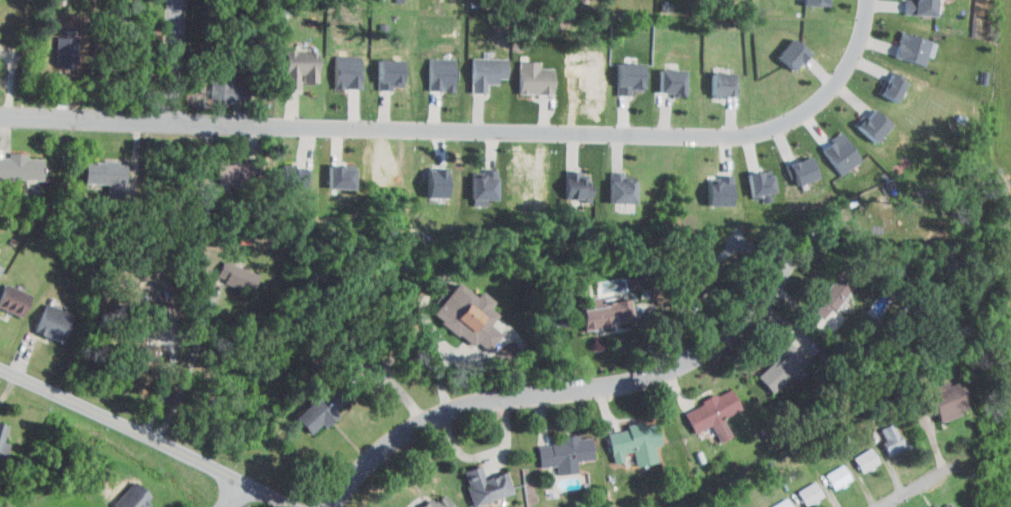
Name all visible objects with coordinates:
building: (813, 2)
building: (920, 7)
building: (911, 48)
building: (790, 54)
road: (170, 59)
building: (300, 68)
building: (343, 71)
building: (389, 73)
building: (489, 73)
building: (439, 74)
building: (536, 77)
building: (628, 77)
building: (231, 78)
building: (670, 80)
building: (718, 84)
building: (892, 86)
building: (872, 126)
road: (472, 129)
building: (837, 156)
building: (21, 167)
building: (239, 172)
building: (799, 172)
building: (289, 176)
building: (110, 177)
building: (338, 178)
building: (434, 182)
building: (482, 183)
building: (757, 183)
building: (575, 184)
building: (620, 188)
building: (718, 194)
building: (0, 266)
building: (1, 271)
building: (238, 278)
building: (695, 283)
building: (834, 292)
building: (15, 301)
building: (470, 314)
building: (610, 314)
building: (54, 325)
road: (437, 337)
building: (141, 350)
building: (783, 366)
road: (185, 375)
road: (565, 388)
building: (330, 401)
building: (949, 401)
building: (717, 415)
building: (2, 433)
road: (144, 437)
building: (638, 441)
building: (895, 441)
building: (567, 455)
building: (868, 460)
building: (839, 476)
building: (490, 486)
road: (913, 487)
building: (811, 495)
road: (234, 496)
building: (134, 497)
building: (442, 502)
building: (784, 503)
building: (945, 505)

